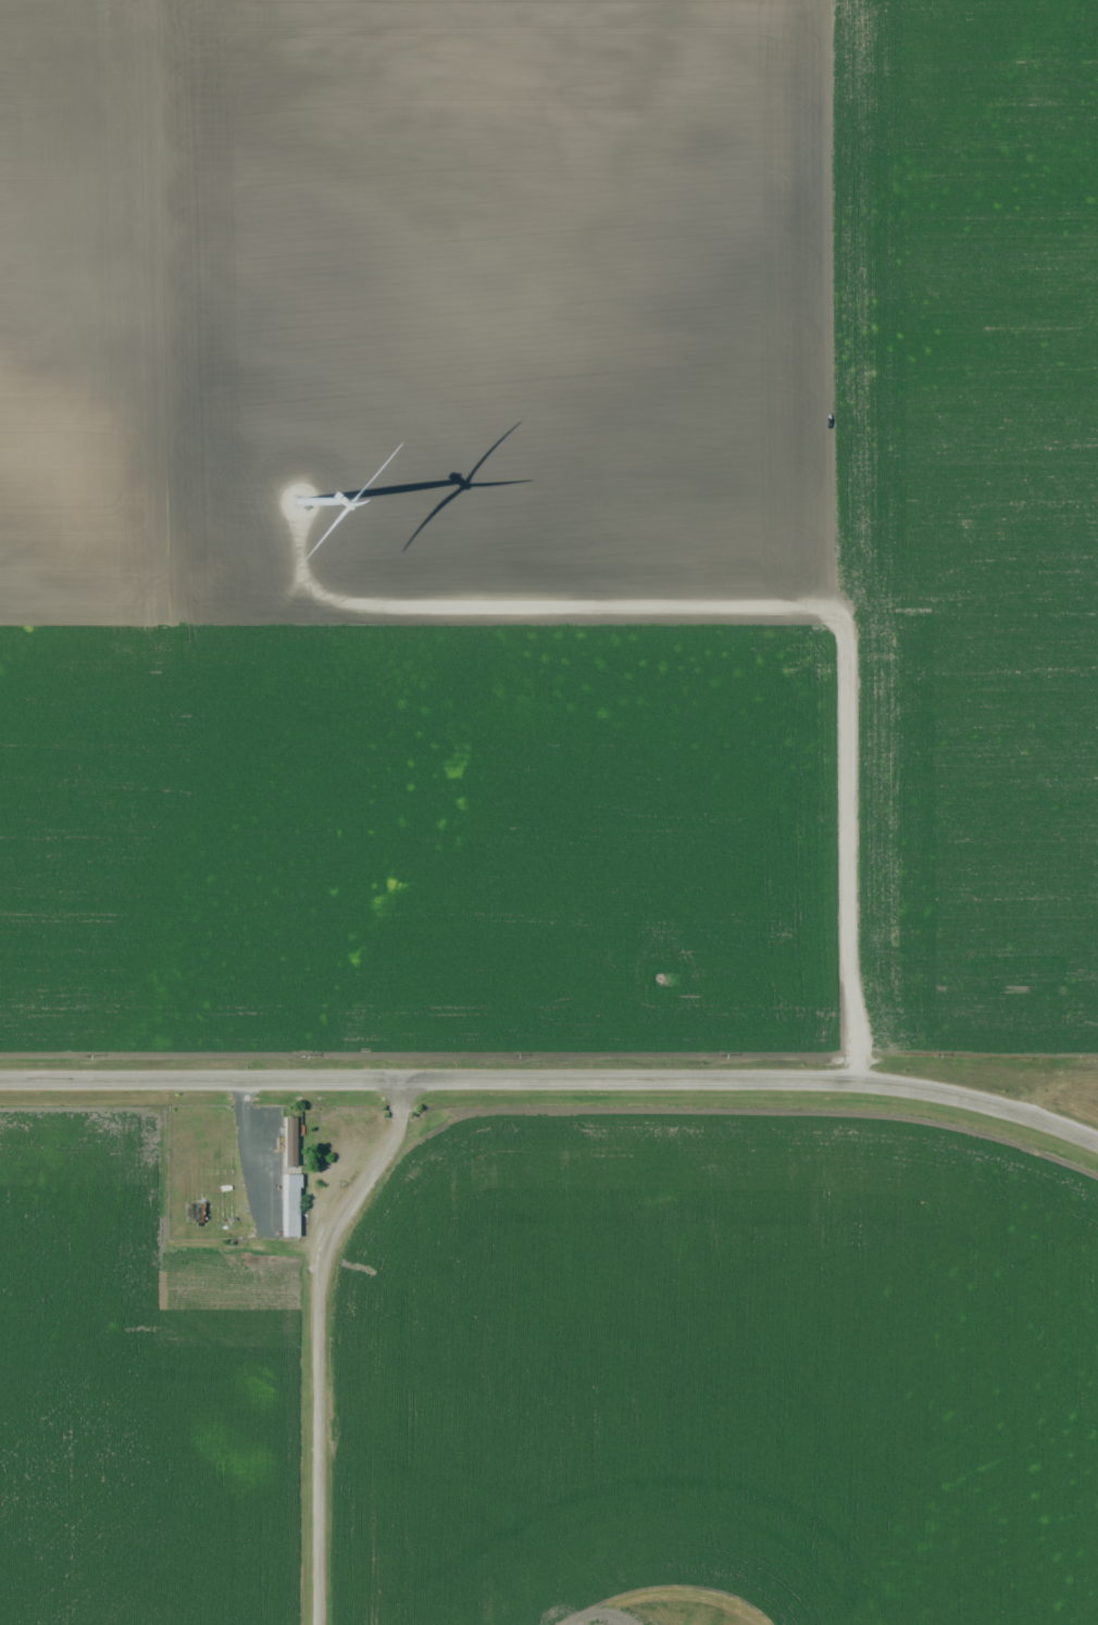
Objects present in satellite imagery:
wind turbine: (299, 502)
road: (764, 607)
road: (425, 1057)
road: (552, 1079)
building: (290, 1150)
road: (254, 1157)
building: (289, 1205)
road: (317, 1341)

